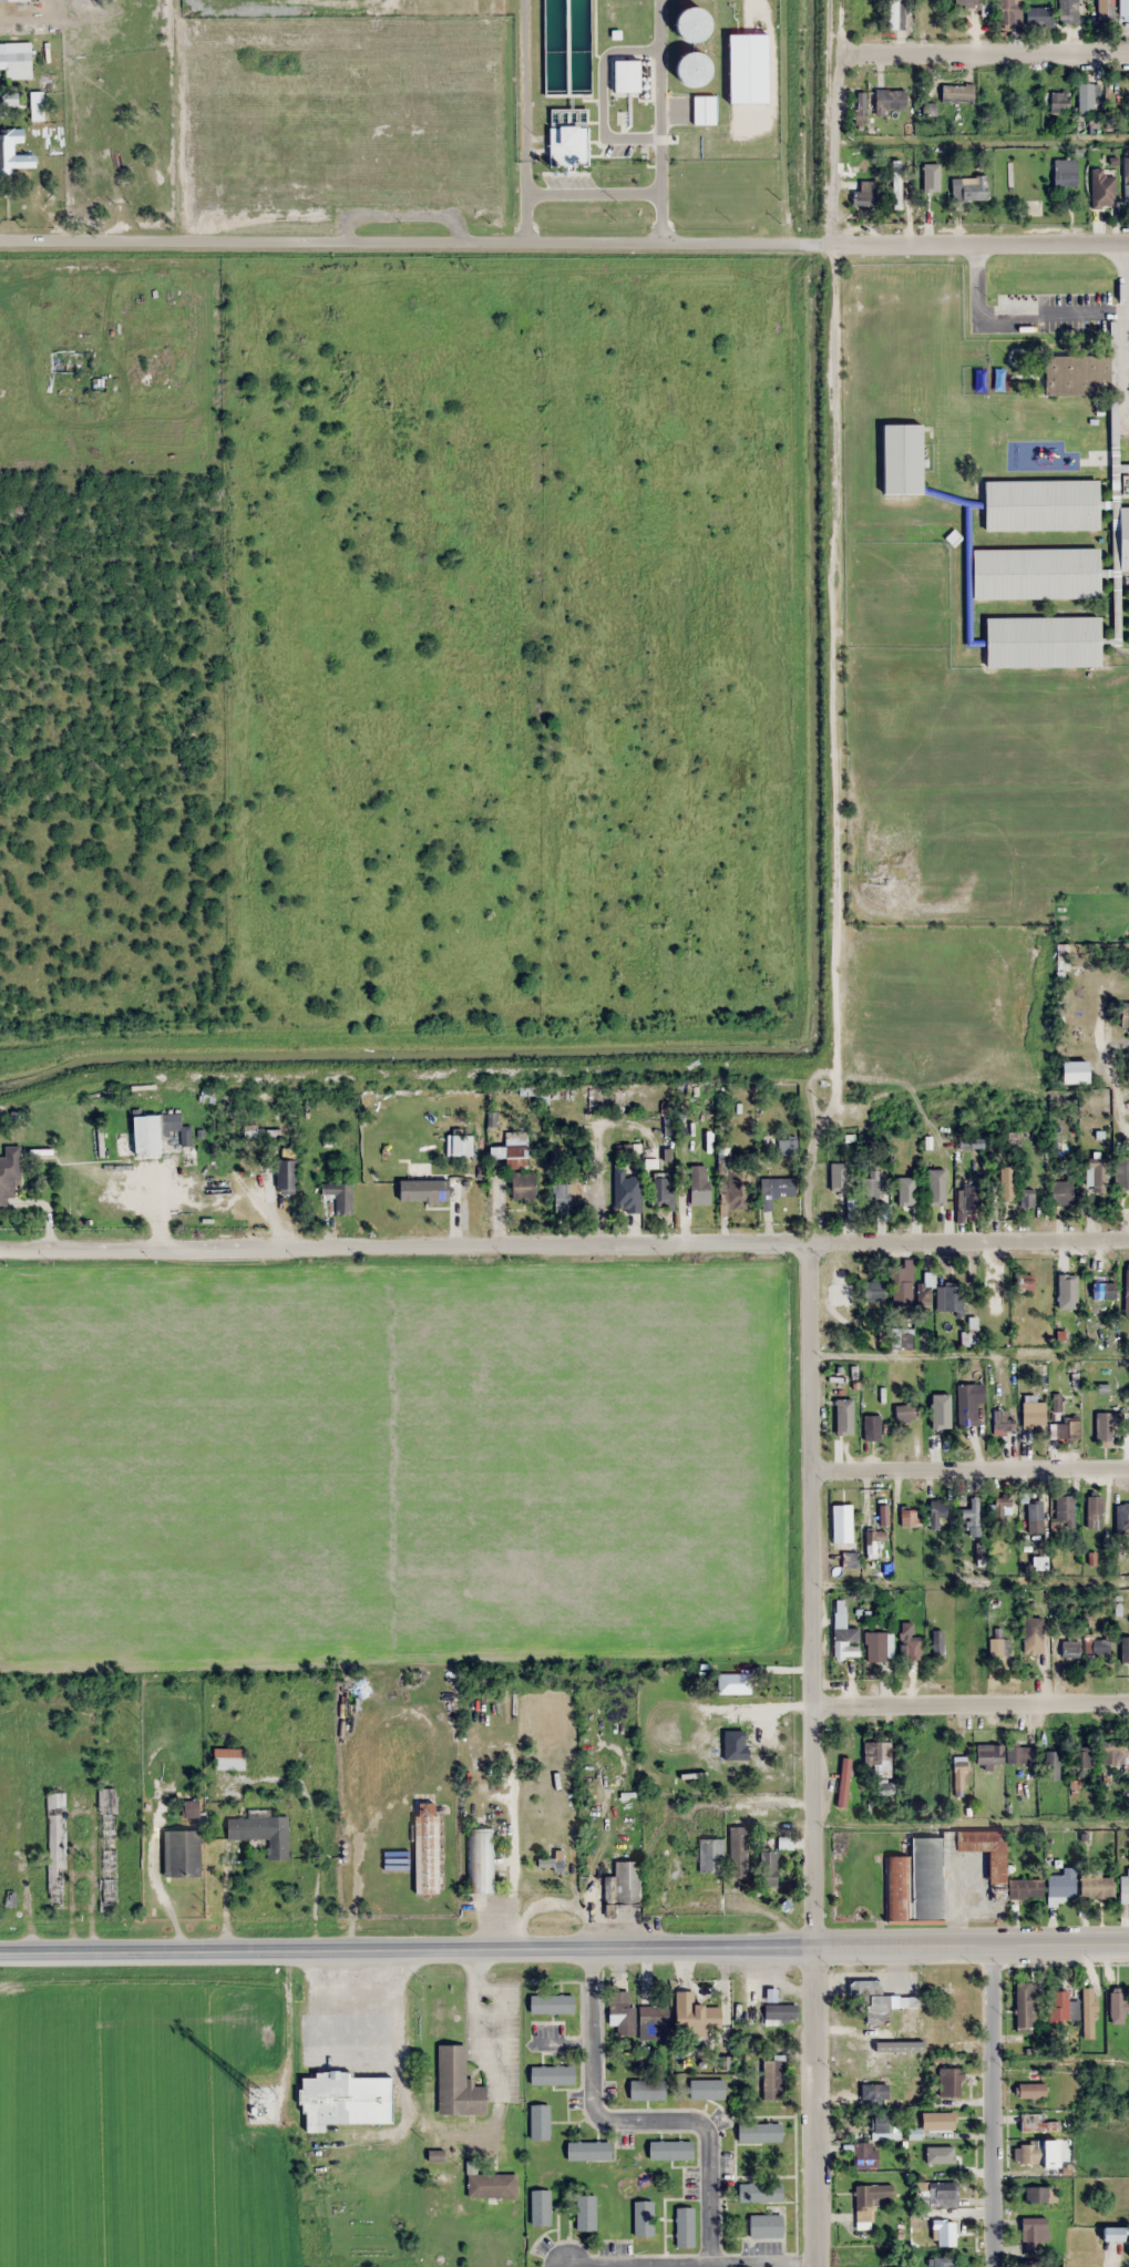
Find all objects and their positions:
building: (13, 0)
building: (971, 3)
building: (1102, 6)
building: (1122, 8)
building: (868, 10)
building: (1004, 11)
building: (1066, 11)
building: (923, 12)
building: (894, 14)
building: (1036, 16)
building: (695, 25)
road: (993, 58)
building: (19, 61)
building: (696, 70)
building: (628, 76)
building: (954, 92)
building: (10, 99)
building: (887, 99)
building: (1022, 99)
building: (1085, 99)
building: (1056, 102)
building: (859, 107)
building: (927, 109)
building: (705, 110)
building: (568, 146)
building: (12, 155)
building: (1008, 156)
building: (1063, 173)
building: (1125, 178)
building: (928, 181)
building: (895, 184)
building: (967, 188)
building: (1100, 188)
building: (861, 194)
road: (564, 234)
building: (71, 361)
building: (899, 458)
building: (1038, 504)
building: (1122, 538)
building: (1034, 573)
building: (1046, 639)
building: (1125, 1016)
building: (1077, 1073)
building: (536, 1094)
building: (158, 1132)
building: (516, 1158)
building: (1121, 1173)
building: (9, 1176)
building: (1096, 1176)
building: (287, 1177)
building: (1006, 1182)
building: (698, 1183)
building: (776, 1186)
building: (524, 1187)
building: (738, 1189)
building: (424, 1191)
building: (626, 1191)
building: (661, 1191)
building: (873, 1191)
building: (838, 1192)
building: (1063, 1192)
building: (566, 1194)
building: (938, 1196)
building: (339, 1197)
building: (904, 1199)
building: (1027, 1199)
building: (967, 1201)
road: (564, 1247)
building: (926, 1280)
building: (1026, 1283)
building: (902, 1285)
building: (1068, 1289)
building: (873, 1291)
building: (1105, 1291)
building: (1127, 1293)
building: (952, 1297)
building: (971, 1334)
building: (901, 1337)
building: (931, 1393)
building: (839, 1396)
building: (969, 1405)
building: (905, 1413)
building: (1034, 1414)
building: (999, 1419)
building: (872, 1428)
building: (1065, 1428)
road: (969, 1469)
building: (1002, 1508)
building: (1064, 1511)
building: (1095, 1512)
building: (937, 1515)
building: (909, 1518)
building: (972, 1518)
building: (1035, 1518)
building: (1122, 1518)
building: (842, 1524)
building: (874, 1543)
building: (851, 1560)
road: (812, 1593)
building: (971, 1630)
building: (1034, 1630)
building: (880, 1642)
building: (846, 1644)
building: (998, 1644)
building: (909, 1645)
building: (1100, 1650)
building: (1070, 1651)
building: (733, 1684)
road: (972, 1705)
building: (1115, 1752)
building: (1003, 1755)
building: (1084, 1757)
building: (877, 1758)
building: (229, 1760)
building: (1051, 1766)
building: (192, 1808)
building: (263, 1833)
building: (107, 1848)
building: (427, 1848)
building: (55, 1851)
building: (738, 1851)
building: (182, 1854)
building: (710, 1855)
building: (480, 1861)
building: (998, 1866)
building: (769, 1868)
building: (928, 1879)
building: (1126, 1883)
building: (624, 1884)
building: (1063, 1885)
building: (1097, 1887)
building: (899, 1889)
road: (564, 1945)
building: (880, 2001)
building: (552, 2003)
building: (1026, 2006)
building: (1118, 2006)
building: (1063, 2008)
building: (620, 2012)
building: (780, 2012)
building: (696, 2014)
building: (654, 2022)
building: (552, 2075)
building: (772, 2080)
building: (951, 2082)
building: (456, 2083)
building: (648, 2089)
building: (707, 2089)
building: (1032, 2090)
building: (872, 2093)
building: (346, 2100)
road: (814, 2104)
road: (993, 2105)
building: (935, 2120)
building: (540, 2122)
building: (1037, 2123)
building: (884, 2125)
building: (760, 2132)
building: (671, 2150)
building: (589, 2151)
building: (937, 2152)
building: (1028, 2153)
building: (863, 2154)
building: (491, 2185)
building: (760, 2192)
building: (933, 2193)
building: (1038, 2194)
building: (870, 2196)
building: (541, 2207)
building: (586, 2213)
building: (644, 2218)
building: (767, 2226)
building: (685, 2227)
building: (942, 2233)
building: (1110, 2233)
building: (1032, 2236)
building: (1128, 2246)
building: (941, 2261)

